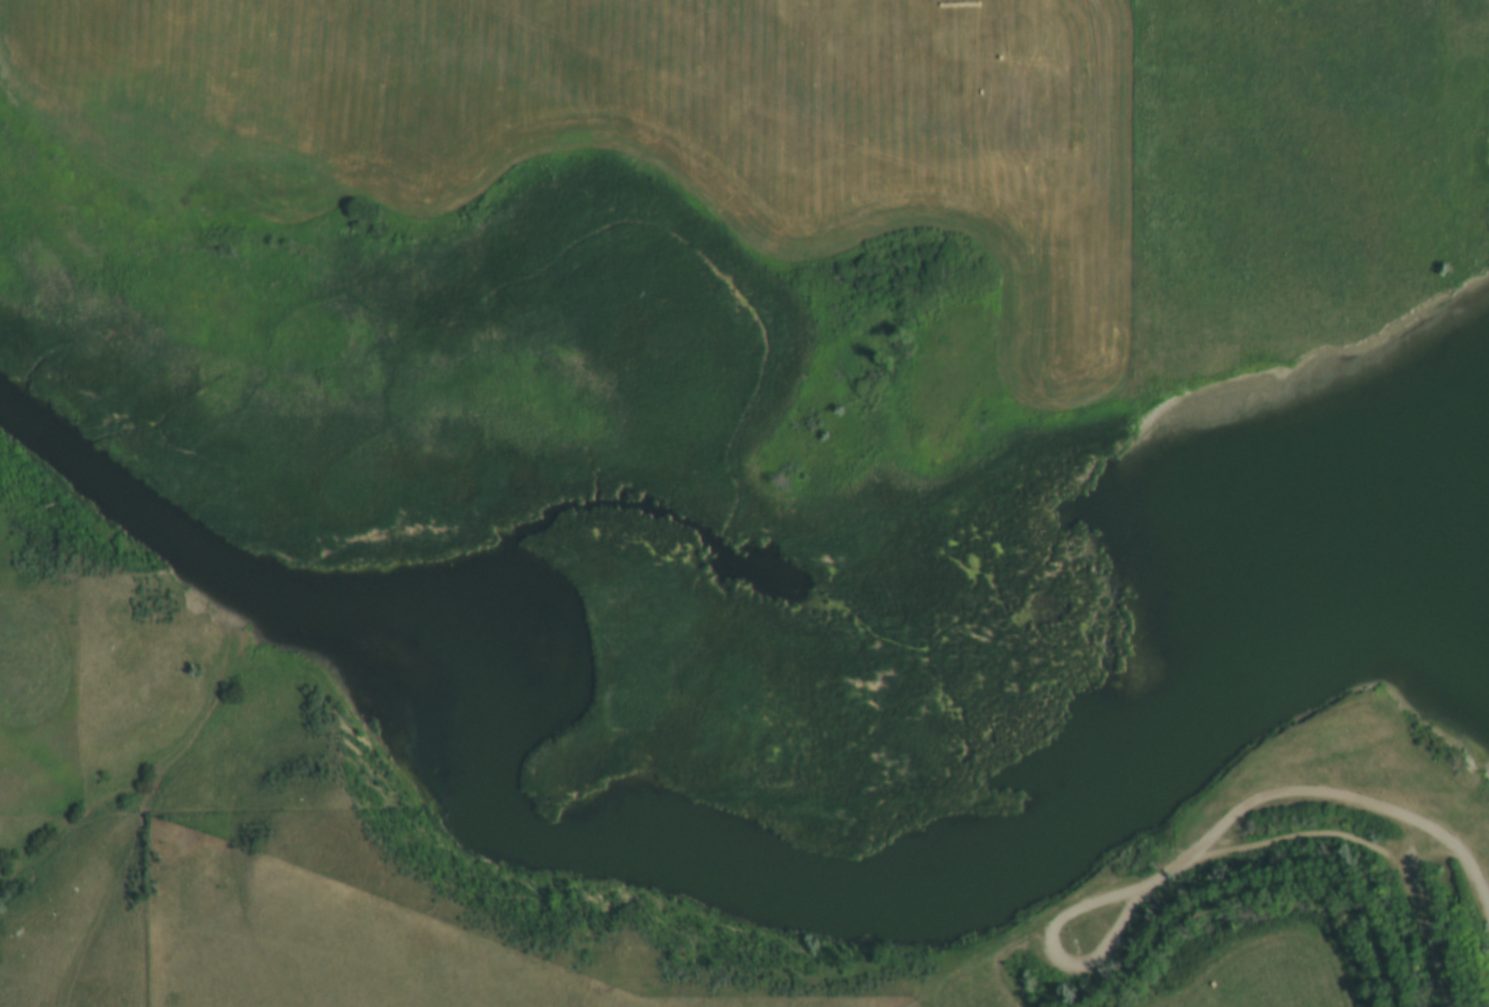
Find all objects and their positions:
road: (1330, 796)
road: (1310, 836)
road: (1417, 913)
road: (1047, 949)

